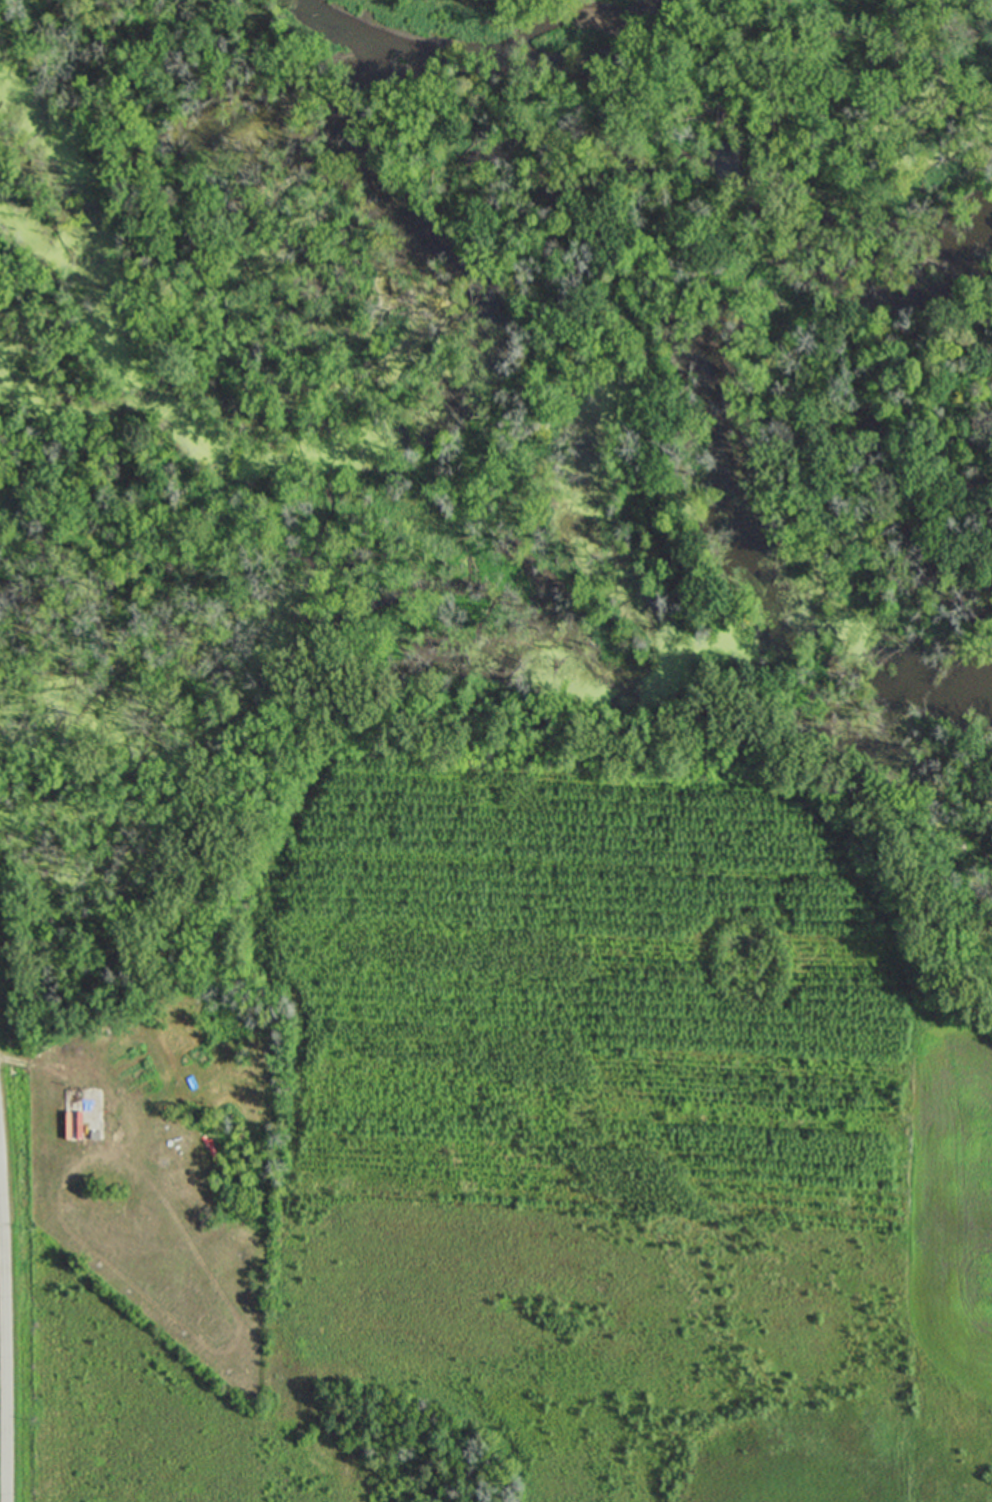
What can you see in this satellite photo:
river: (476, 45)
road: (3, 1323)

